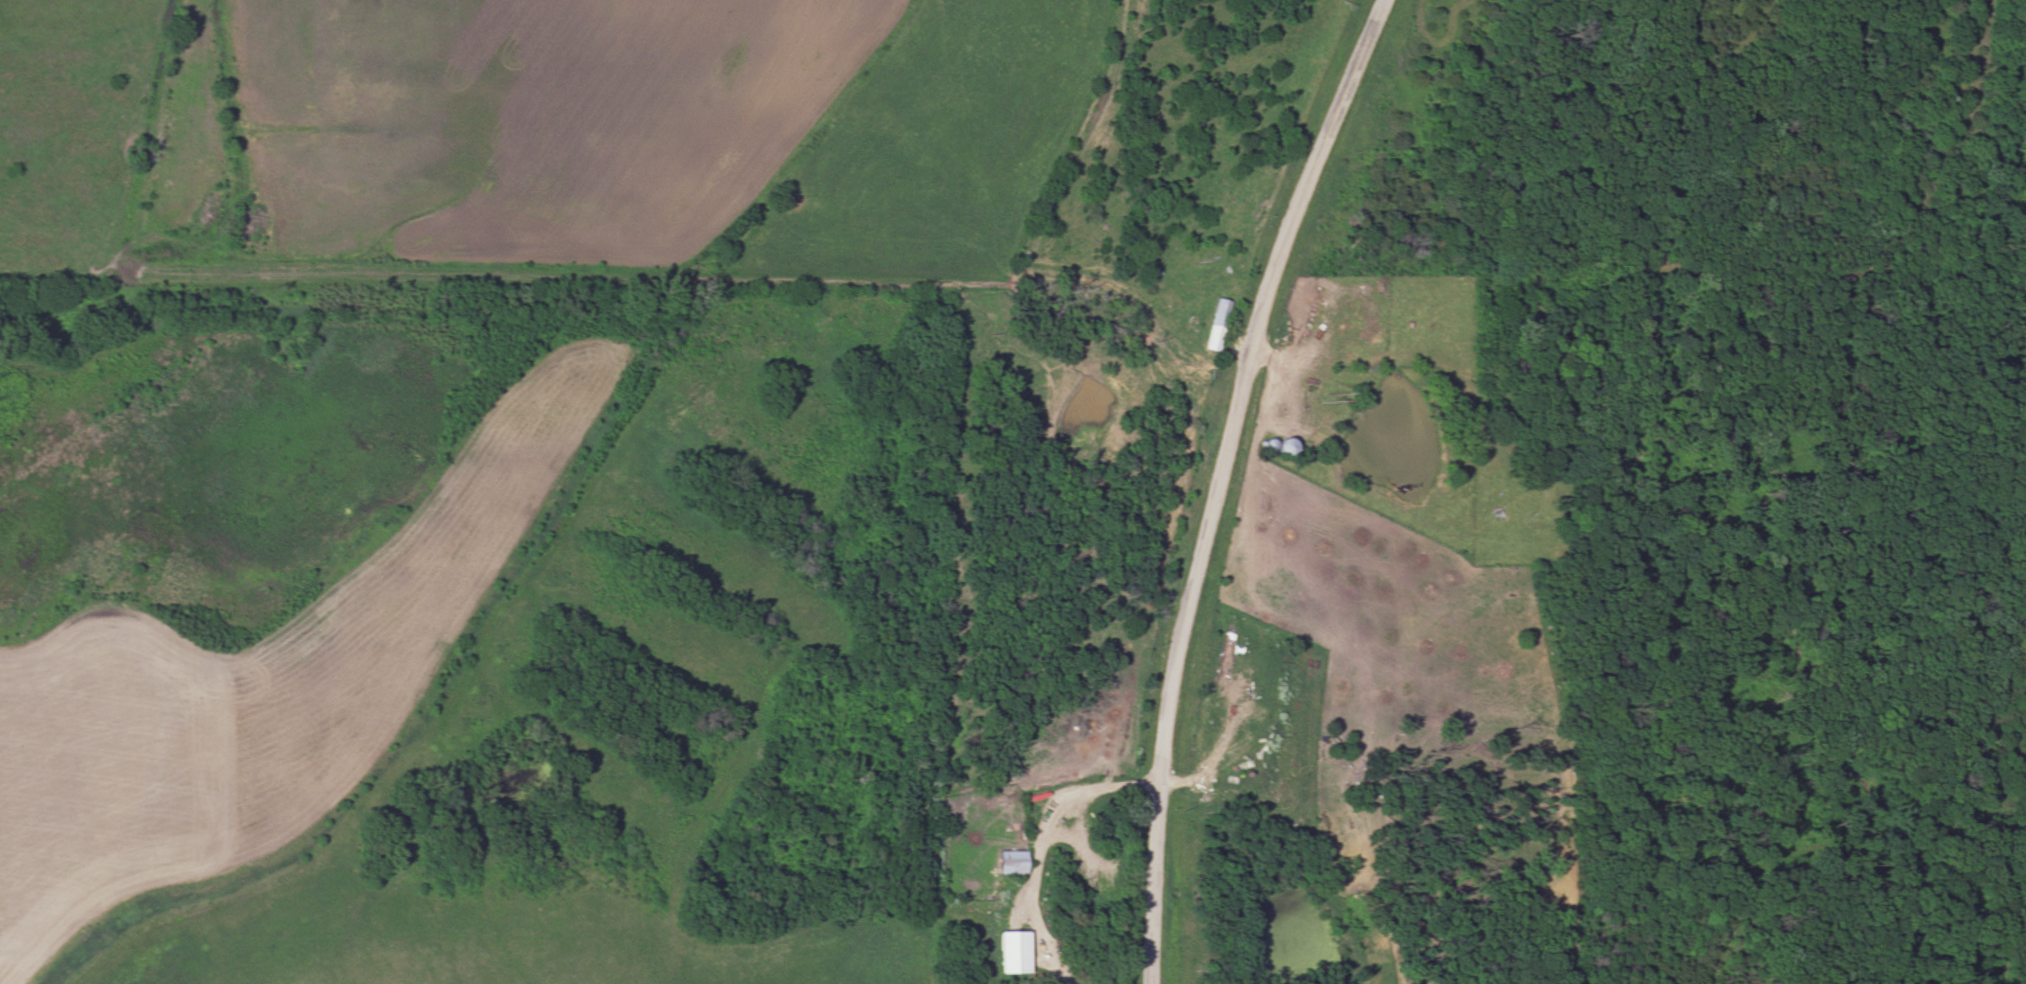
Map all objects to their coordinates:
building: (1213, 326)
road: (1218, 479)
road: (1041, 841)
building: (1007, 863)
building: (1008, 953)

